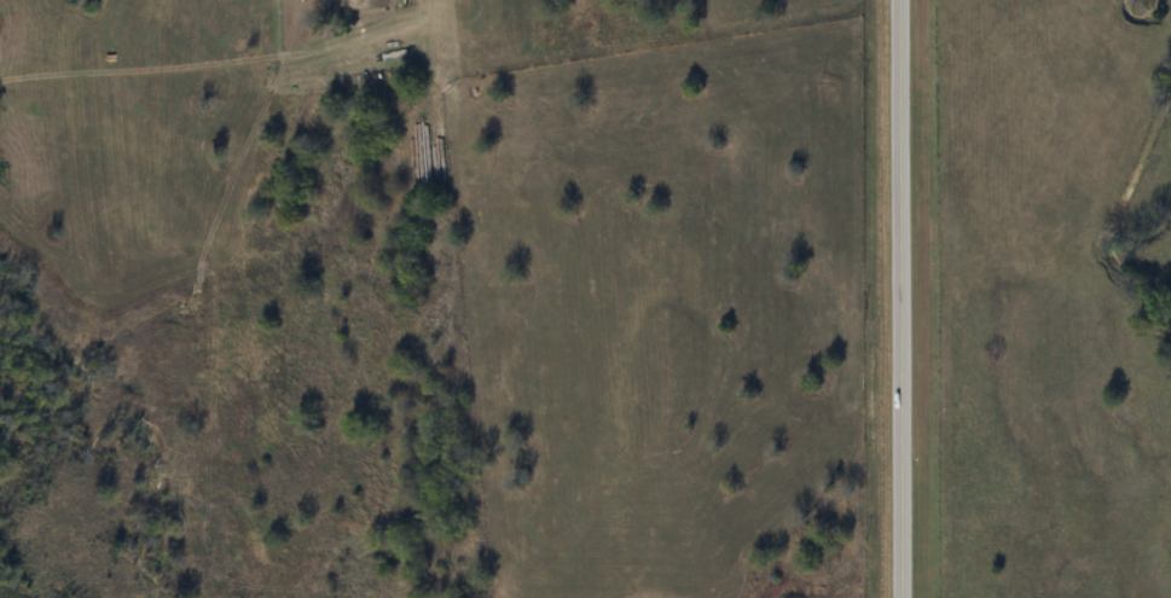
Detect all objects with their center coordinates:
road: (889, 298)

